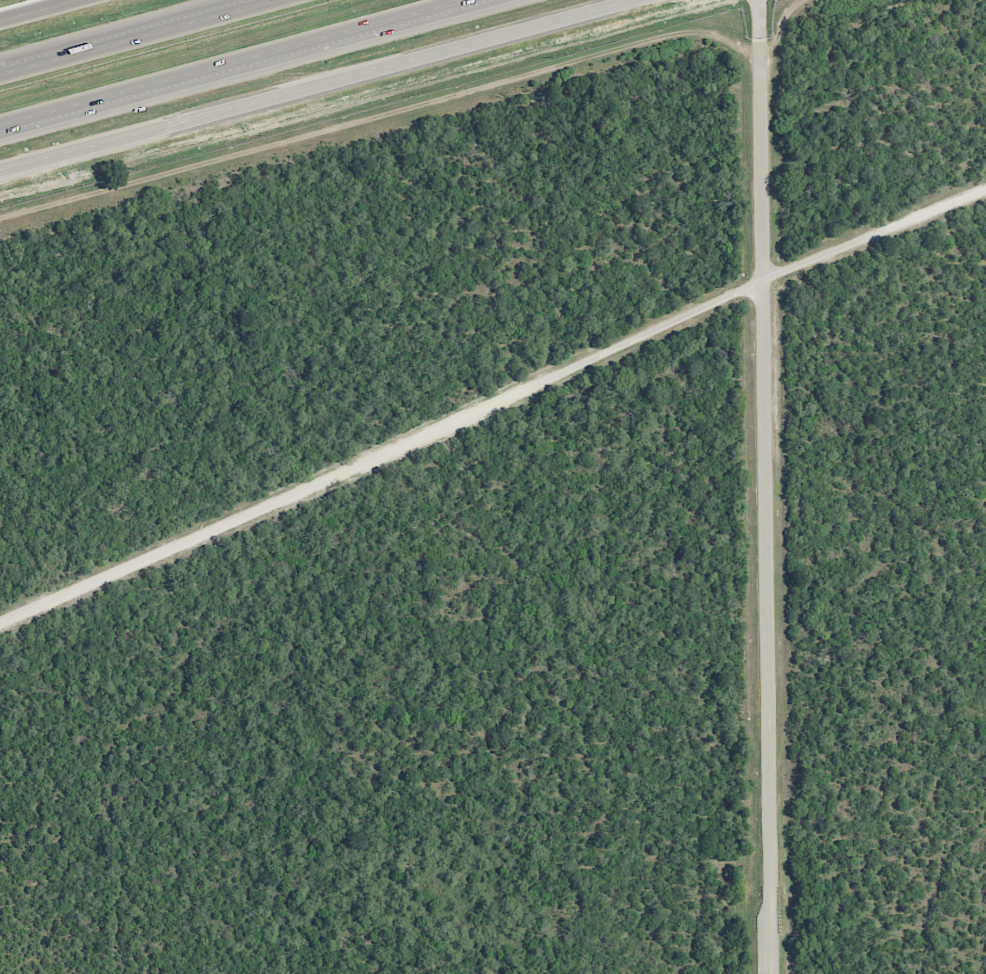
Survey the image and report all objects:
road: (41, 11)
road: (143, 38)
road: (231, 62)
road: (319, 85)
road: (409, 110)
road: (491, 406)
road: (766, 505)

